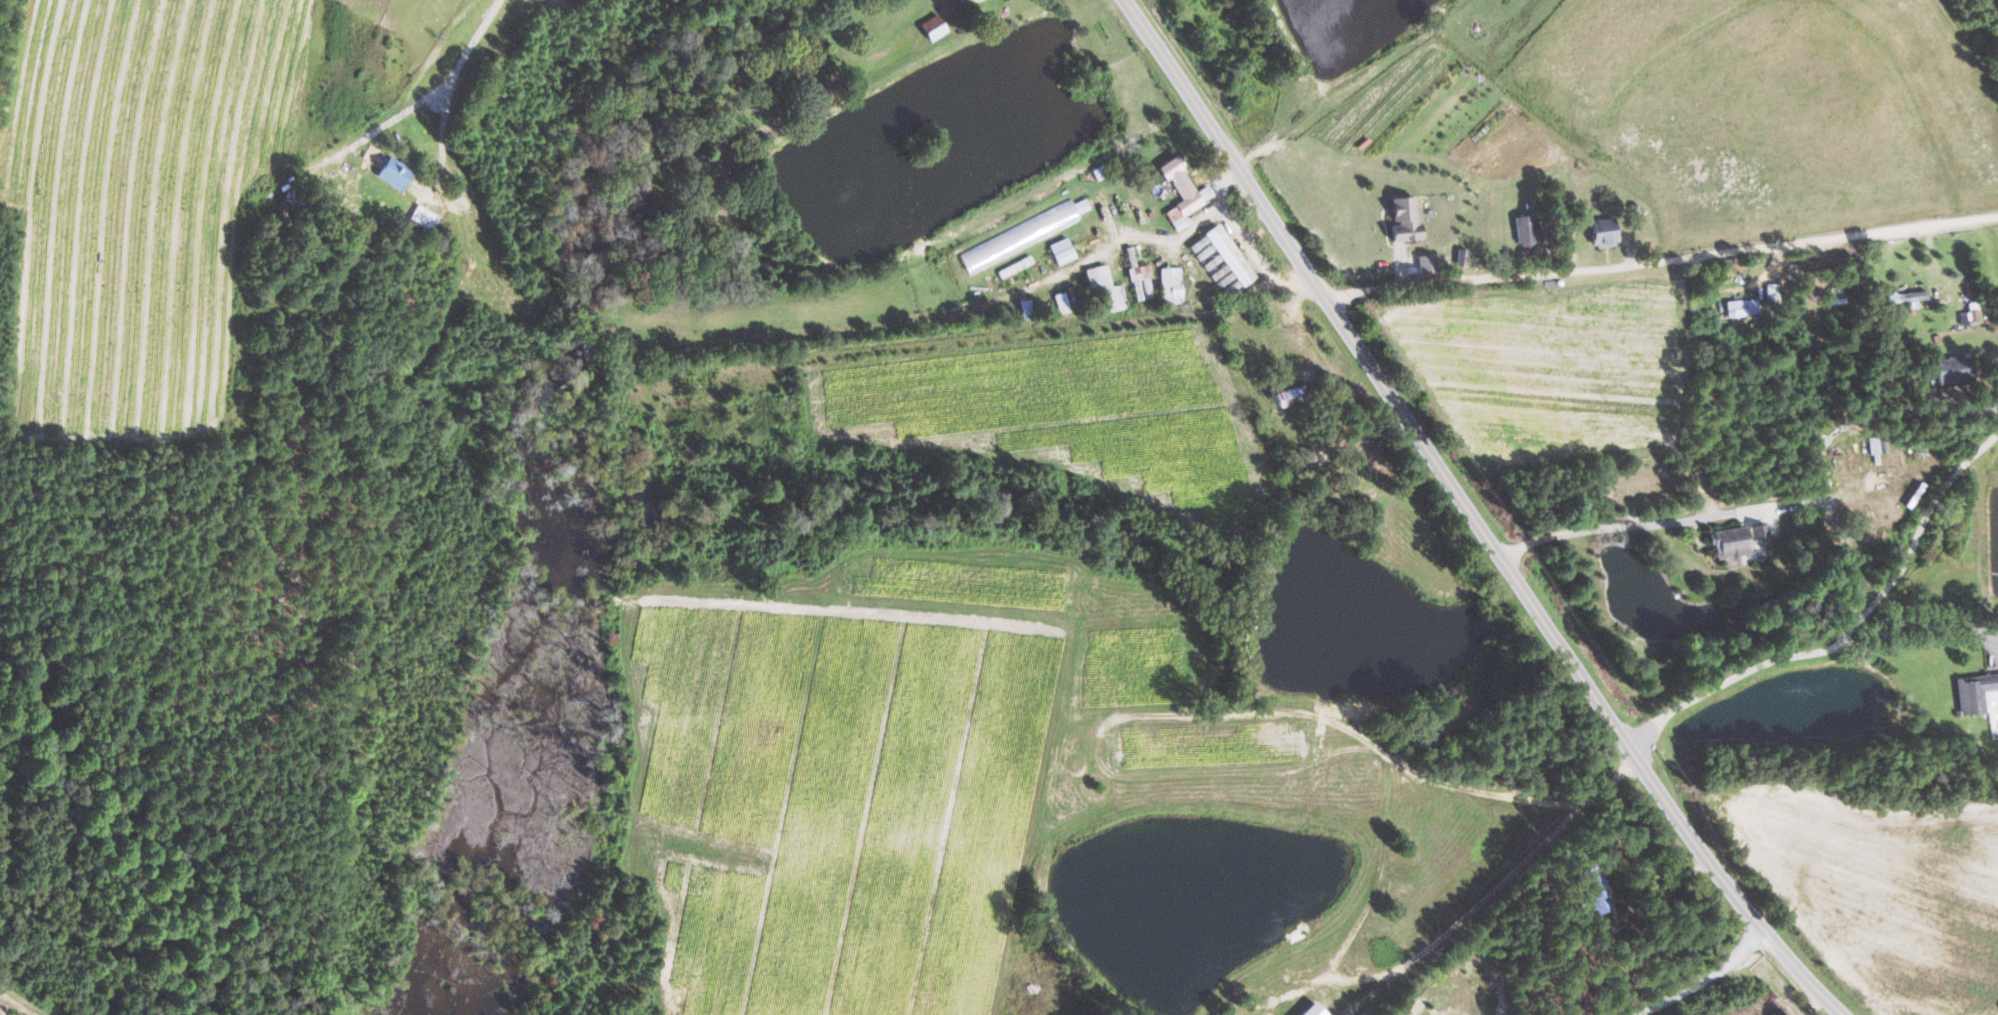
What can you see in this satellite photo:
building: (1010, 0)
building: (933, 27)
road: (452, 85)
building: (393, 173)
building: (1182, 193)
building: (424, 217)
building: (1404, 220)
building: (1525, 231)
building: (1603, 232)
building: (1022, 235)
building: (1062, 251)
building: (1229, 255)
road: (1658, 261)
building: (1214, 266)
building: (1138, 272)
building: (1170, 285)
building: (1105, 289)
building: (1906, 297)
building: (1061, 303)
building: (1743, 307)
building: (1955, 369)
building: (1290, 394)
building: (1879, 444)
road: (1465, 516)
road: (1660, 521)
road: (1842, 527)
road: (1917, 536)
building: (1738, 540)
road: (1943, 629)
road: (1745, 669)
building: (1974, 692)
building: (1595, 888)
road: (1492, 891)
road: (1699, 979)

